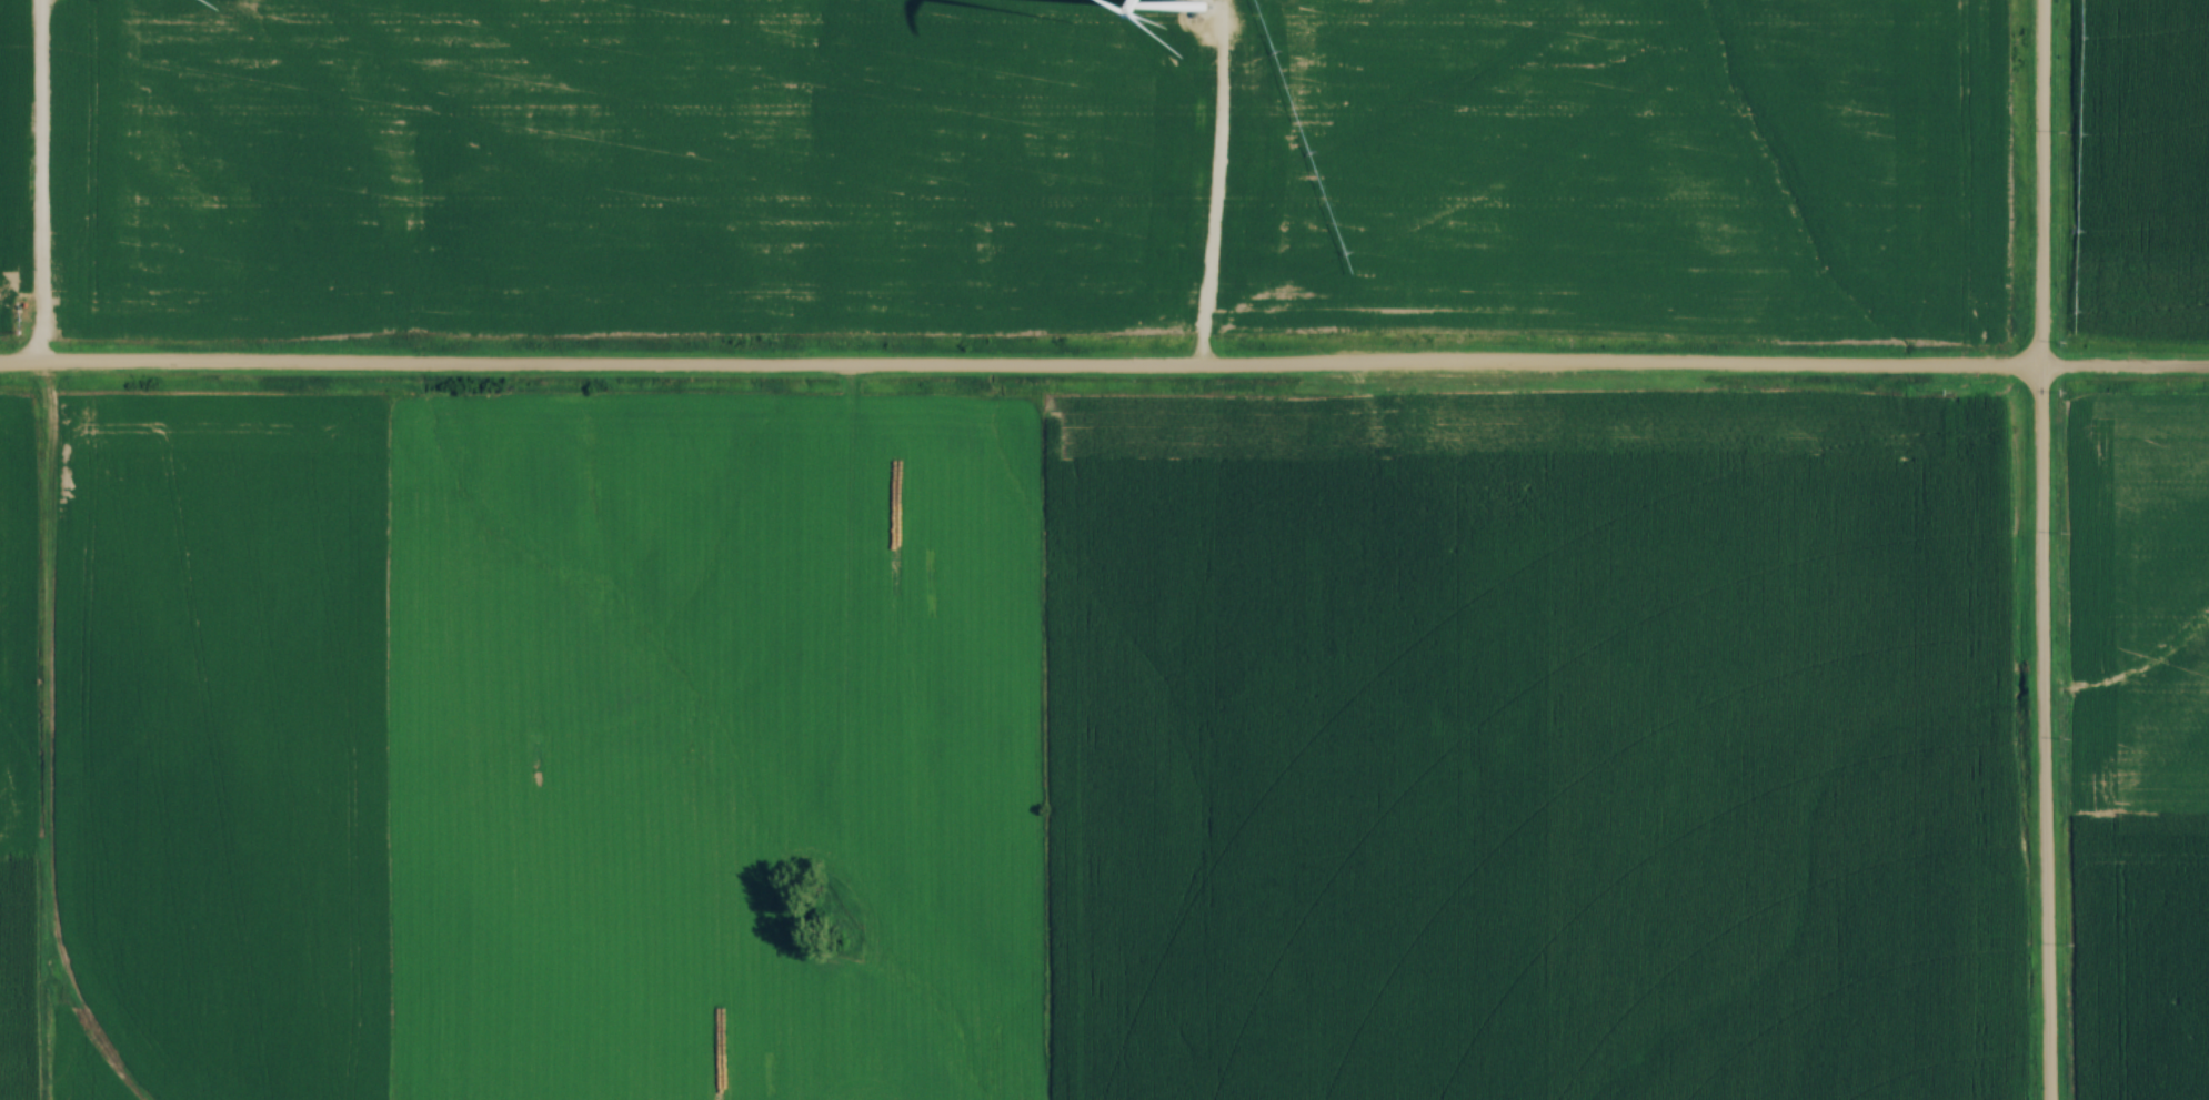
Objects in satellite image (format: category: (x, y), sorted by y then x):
wind turbine: (1201, 6)
road: (41, 180)
road: (1217, 185)
road: (1104, 363)
road: (2037, 549)

